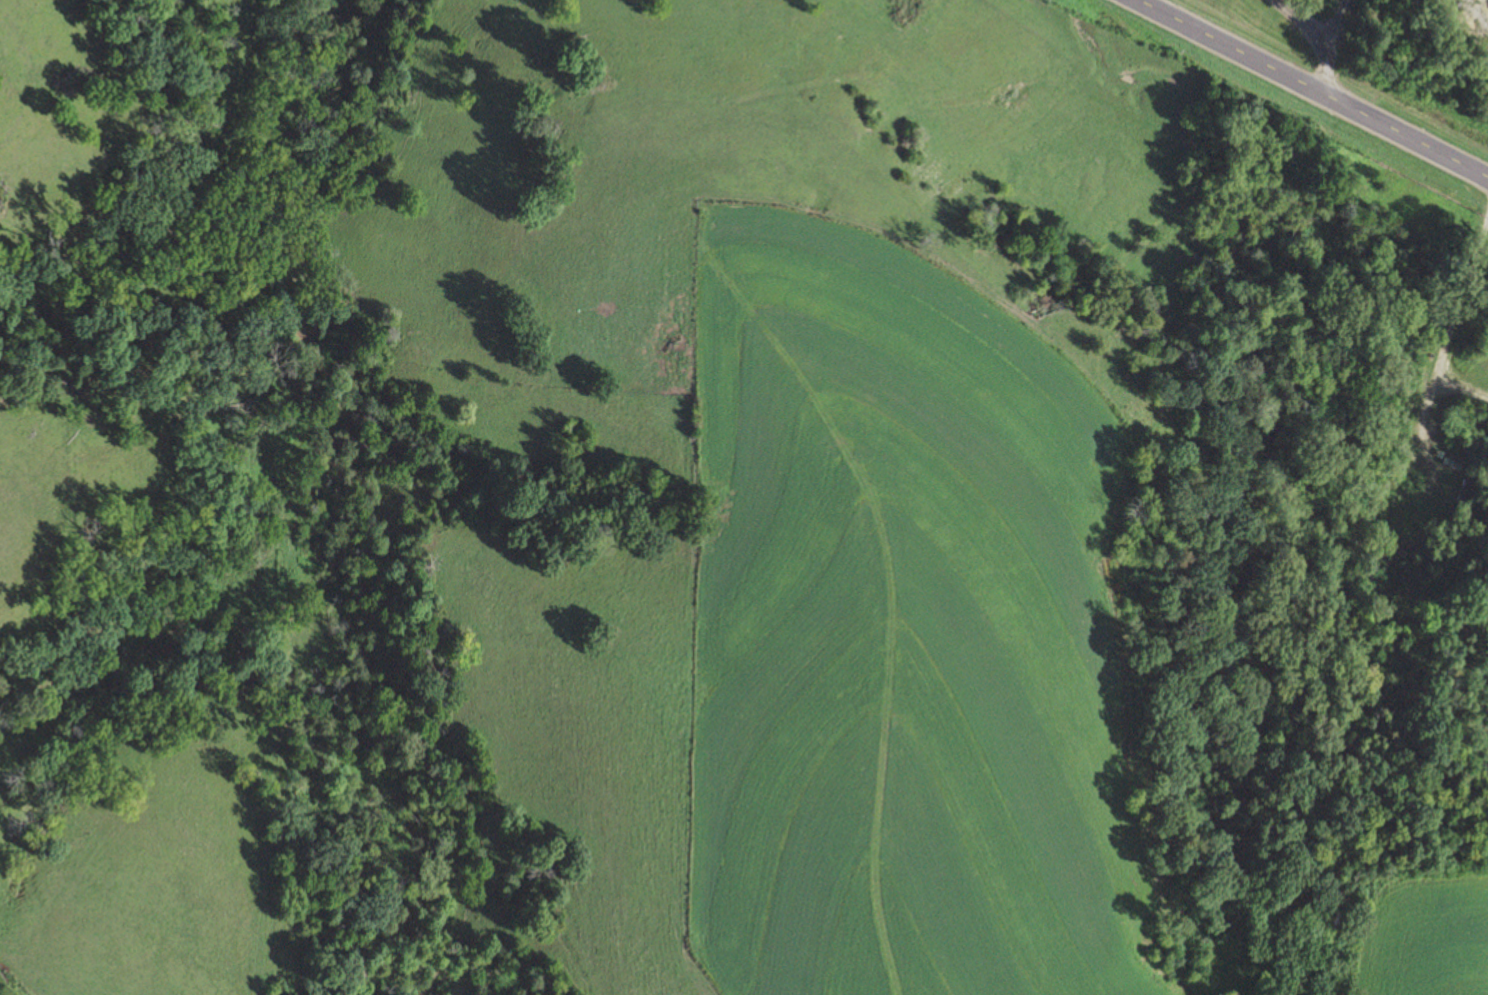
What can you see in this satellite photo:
road: (1315, 38)
road: (1313, 87)
road: (1448, 332)
building: (1454, 464)

